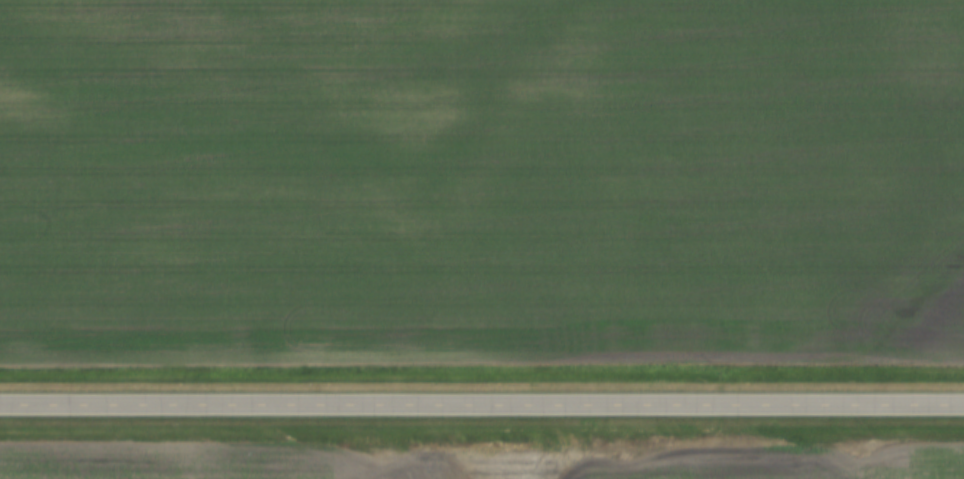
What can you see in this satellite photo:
road: (482, 410)

